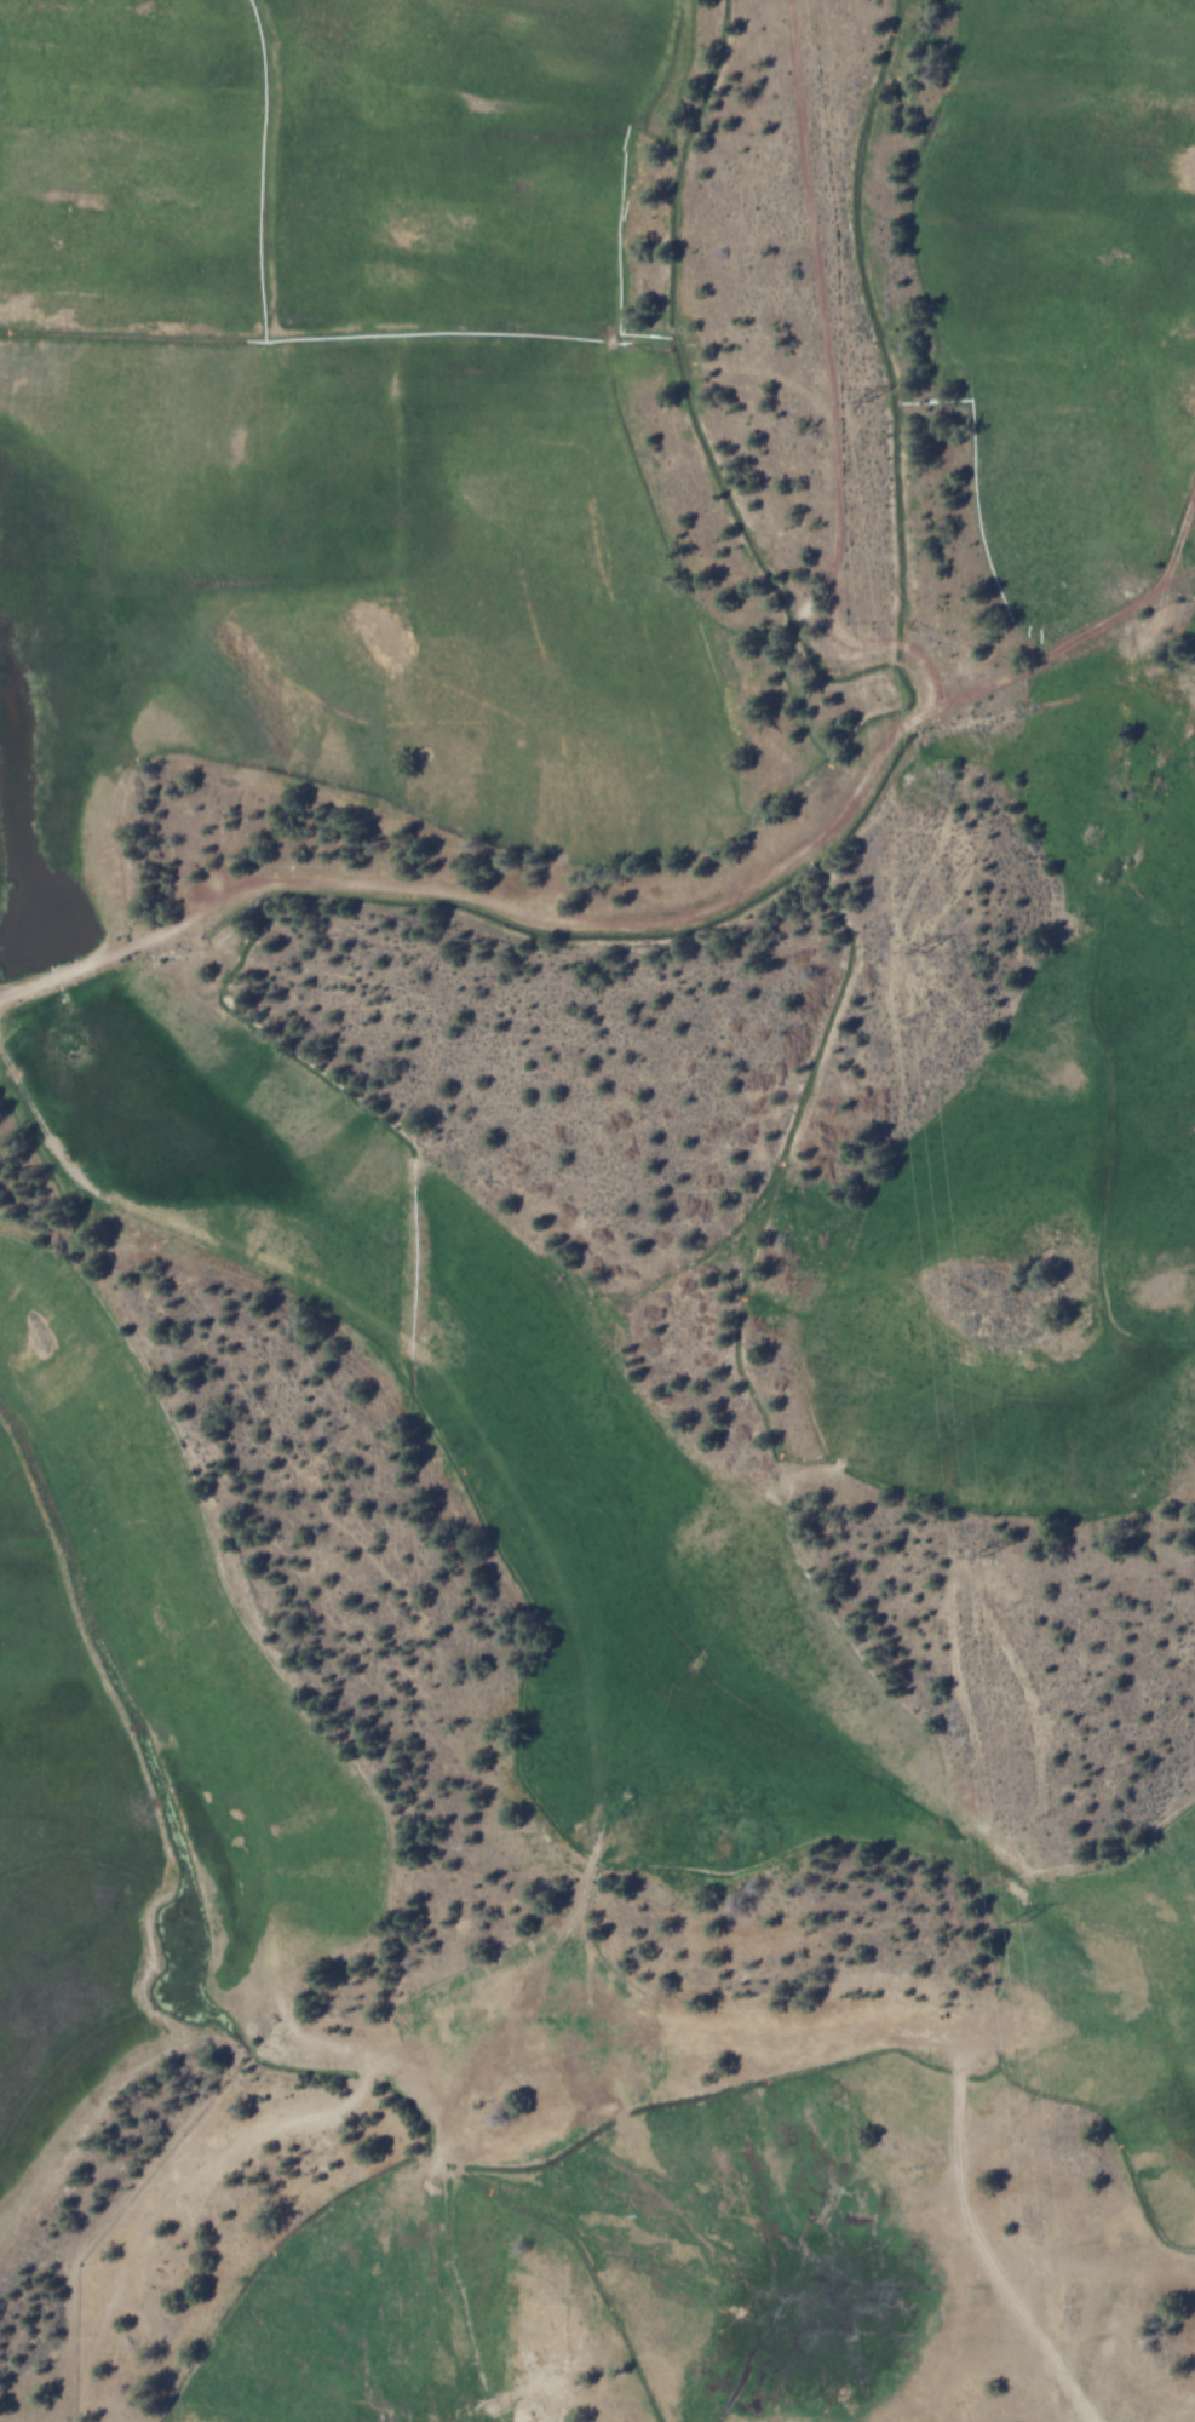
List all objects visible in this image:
crop: (1065, 294)
power tower: (857, 402)
crop: (377, 785)
power tower: (906, 953)
power tower: (975, 1557)
crop: (126, 1745)
power tower: (1007, 1919)
crop: (762, 2192)

